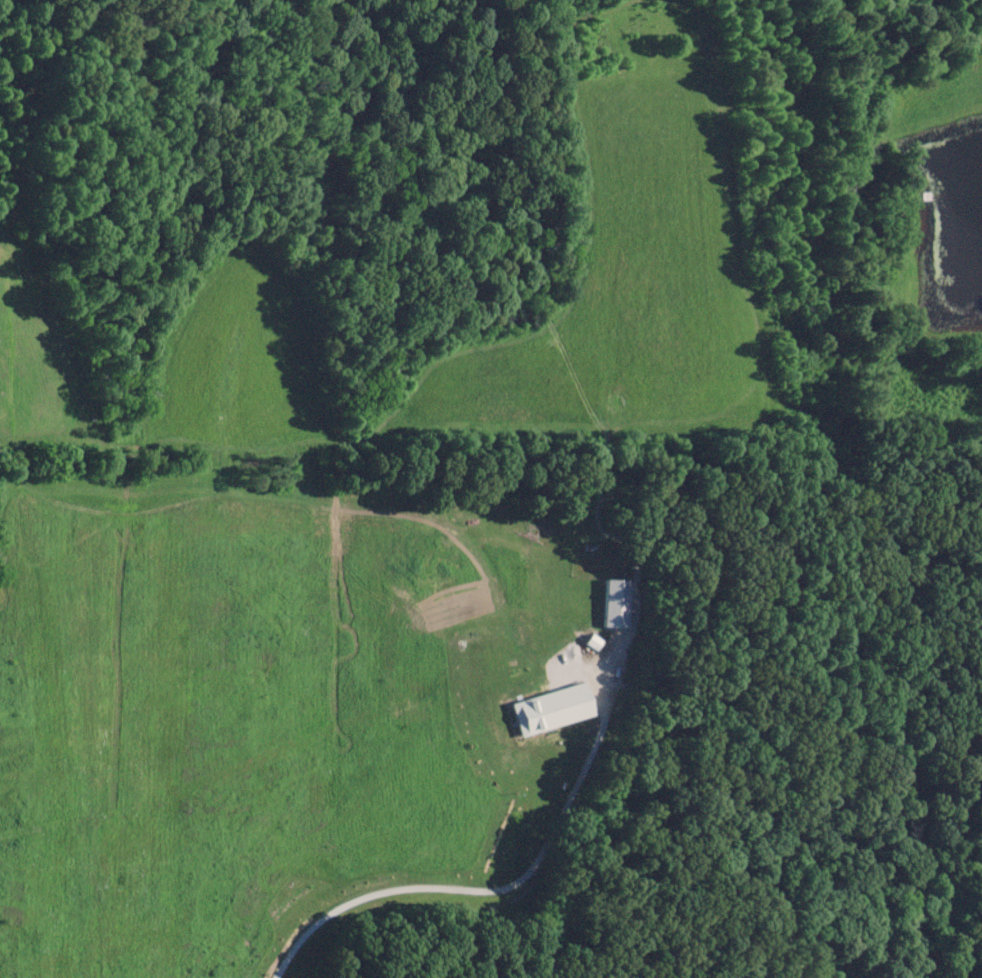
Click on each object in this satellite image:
building: (615, 603)
building: (553, 709)

